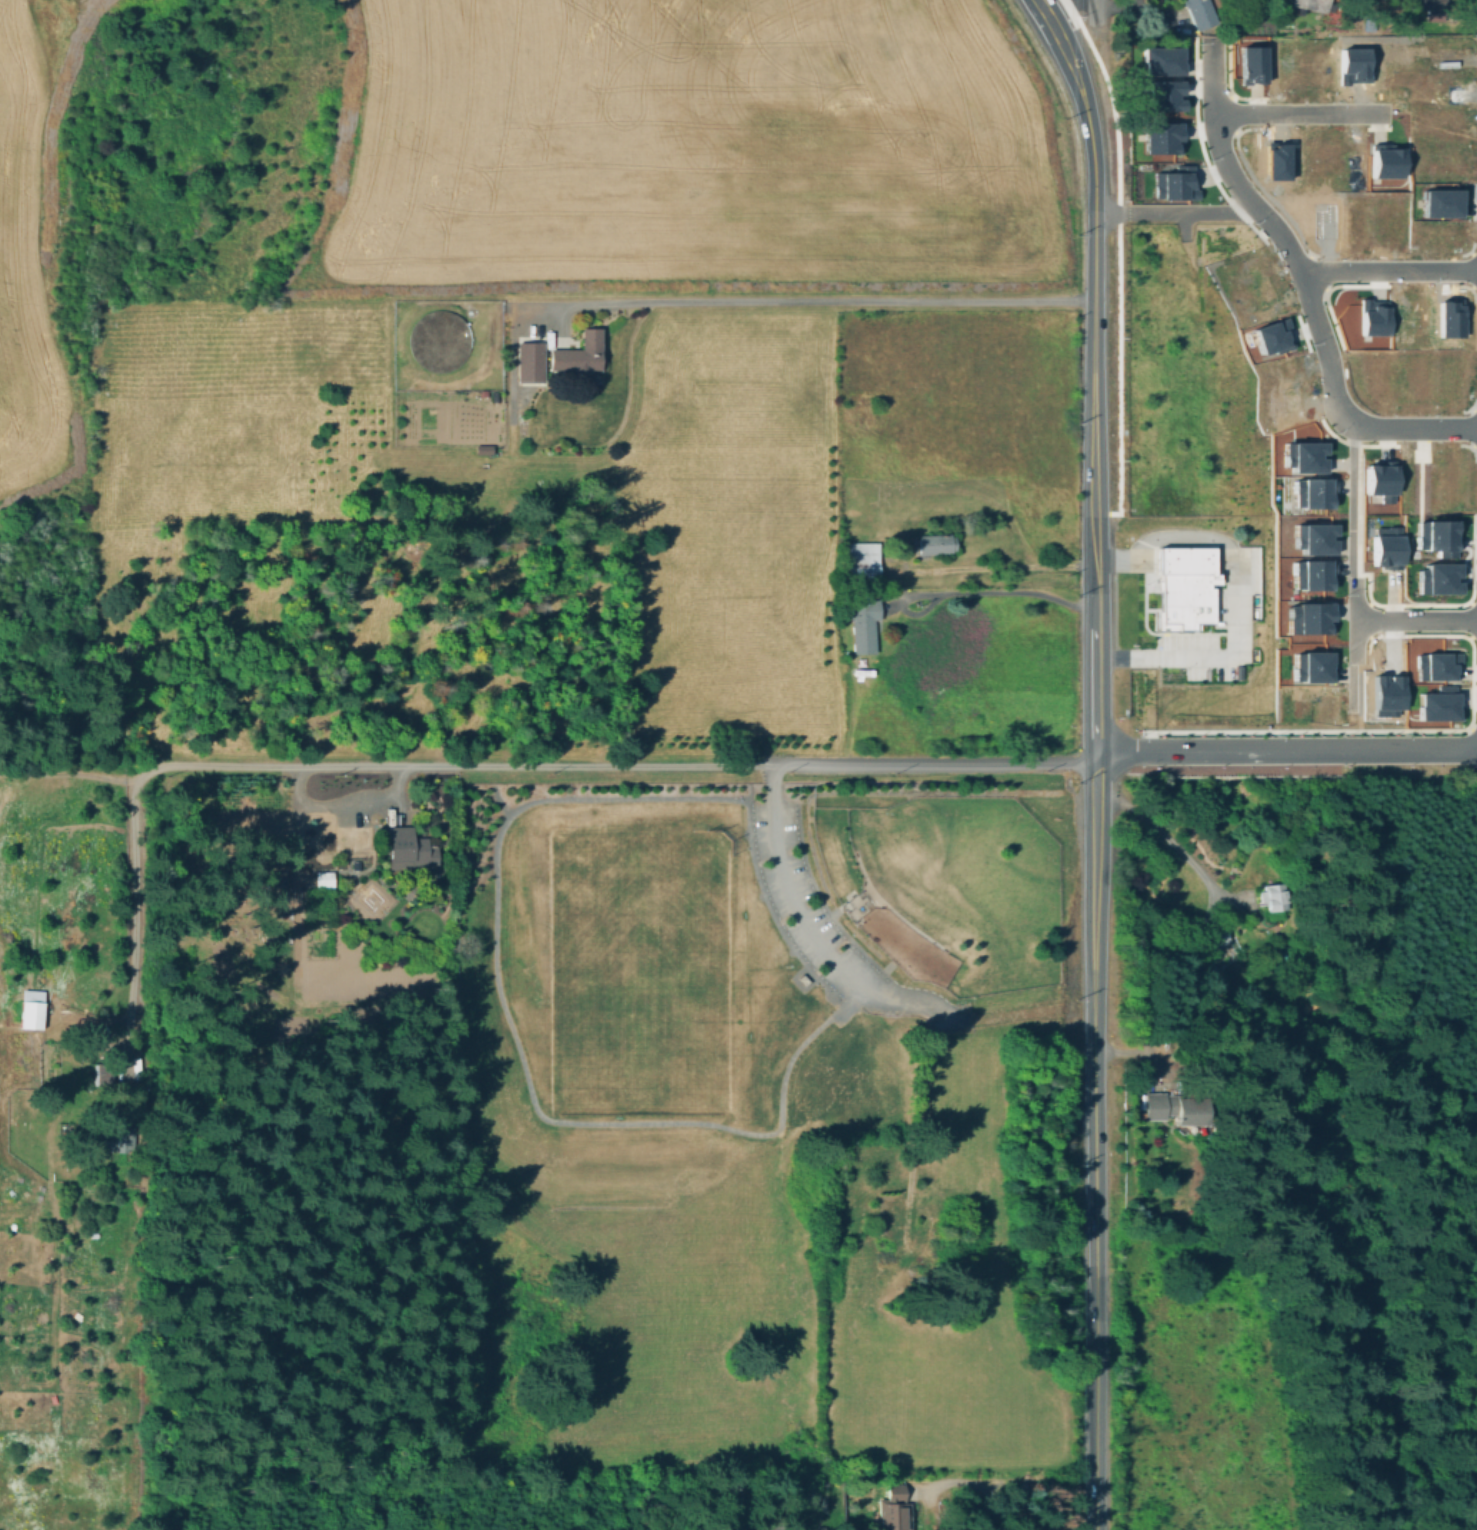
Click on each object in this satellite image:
building: (1310, 5)
building: (1423, 5)
road: (1038, 6)
road: (1043, 6)
road: (1058, 6)
road: (1093, 12)
building: (1200, 13)
road: (1054, 29)
building: (1438, 50)
building: (1161, 59)
building: (1387, 60)
building: (1253, 61)
building: (1282, 62)
building: (1319, 63)
building: (1353, 63)
building: (1437, 88)
building: (1165, 91)
road: (1298, 112)
road: (1229, 113)
road: (1089, 127)
building: (1437, 127)
building: (1161, 136)
crop: (689, 145)
building: (1277, 159)
building: (1308, 159)
building: (1345, 160)
building: (1386, 160)
building: (1437, 160)
road: (1251, 179)
building: (1172, 182)
building: (1437, 201)
road: (1173, 211)
building: (1326, 219)
building: (1357, 221)
building: (1389, 221)
building: (1437, 231)
road: (1116, 262)
building: (1245, 267)
road: (1470, 269)
road: (1388, 270)
road: (1315, 272)
road: (1304, 284)
building: (1258, 298)
crop: (25, 302)
road: (802, 305)
building: (1414, 315)
building: (1372, 317)
building: (1447, 318)
building: (1268, 333)
building: (436, 344)
building: (580, 354)
building: (532, 362)
road: (1095, 362)
building: (1281, 366)
building: (1376, 371)
building: (1412, 374)
building: (1448, 374)
road: (1469, 377)
crop: (966, 406)
building: (1282, 406)
road: (1470, 410)
road: (1318, 421)
road: (1470, 426)
road: (1470, 443)
building: (1301, 452)
building: (1379, 475)
building: (1451, 476)
building: (1415, 478)
building: (1310, 490)
road: (1350, 502)
building: (1312, 532)
building: (1433, 537)
building: (936, 546)
building: (1386, 548)
road: (1147, 555)
road: (1183, 555)
road: (1223, 555)
building: (860, 563)
road: (1141, 566)
road: (1183, 567)
road: (1223, 568)
building: (1309, 571)
building: (1435, 577)
building: (1183, 586)
road: (1019, 591)
road: (1235, 594)
building: (1310, 613)
road: (1353, 618)
road: (1470, 619)
road: (1415, 620)
building: (867, 629)
road: (1095, 633)
road: (1158, 633)
parking lot: (1209, 638)
road: (1163, 645)
building: (1312, 662)
building: (1434, 665)
building: (1237, 672)
road: (1350, 683)
crop: (972, 686)
building: (1386, 692)
building: (1314, 699)
building: (1435, 704)
road: (1471, 729)
road: (1408, 730)
road: (1286, 747)
road: (469, 766)
road: (1096, 776)
road: (351, 806)
road: (1167, 839)
building: (402, 852)
building: (276, 878)
building: (319, 881)
building: (1272, 897)
parking lot: (806, 904)
road: (804, 915)
road: (774, 917)
building: (1214, 938)
building: (1281, 953)
park: (641, 968)
building: (33, 1014)
road: (513, 1035)
building: (102, 1080)
road: (911, 1105)
building: (1177, 1107)
park: (769, 1119)
building: (115, 1139)
road: (1094, 1163)
building: (883, 1219)
building: (829, 1232)
building: (930, 1249)
crop: (65, 1378)
building: (890, 1497)
road: (917, 1523)

